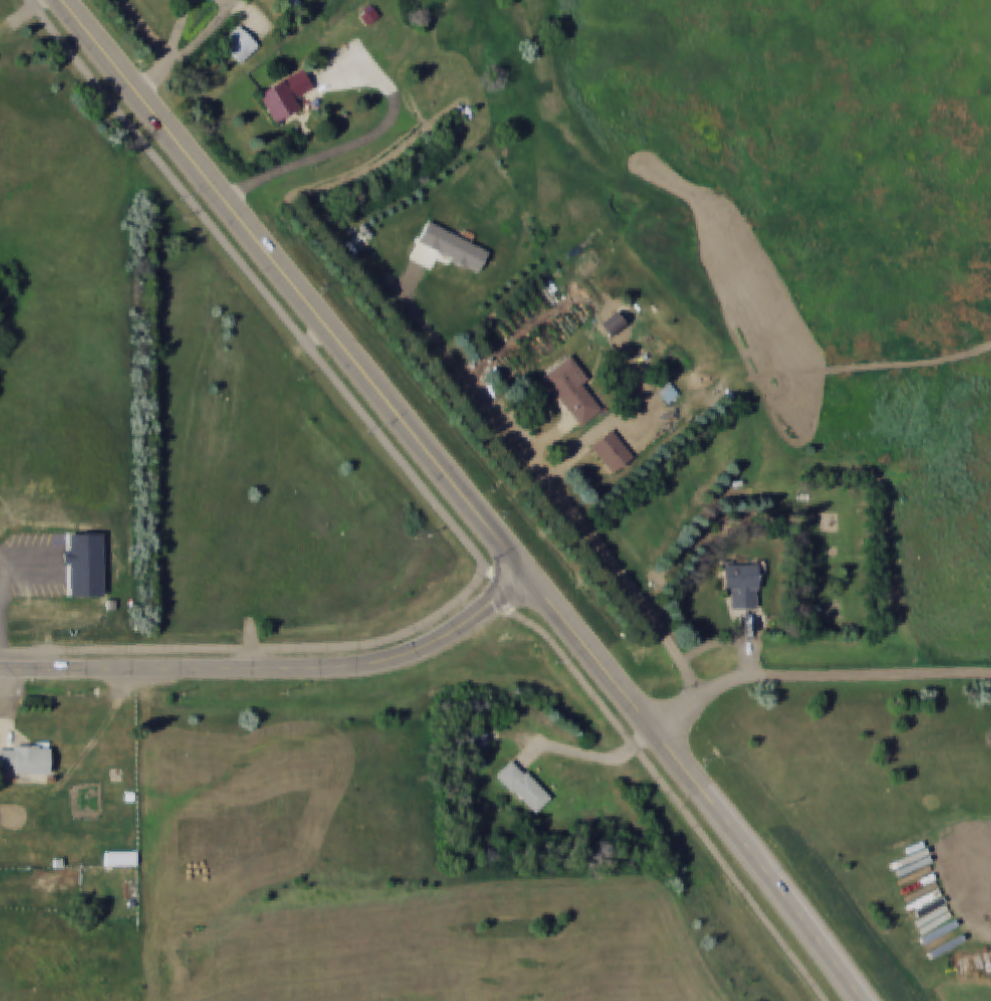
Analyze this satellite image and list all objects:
road: (76, 4)
building: (240, 44)
building: (285, 95)
road: (336, 154)
road: (295, 288)
building: (571, 390)
building: (611, 452)
road: (419, 481)
road: (604, 555)
building: (741, 585)
road: (276, 668)
road: (815, 678)
road: (615, 682)
building: (476, 741)
road: (588, 757)
building: (24, 759)
road: (655, 777)
building: (523, 787)
building: (121, 859)
road: (778, 896)

